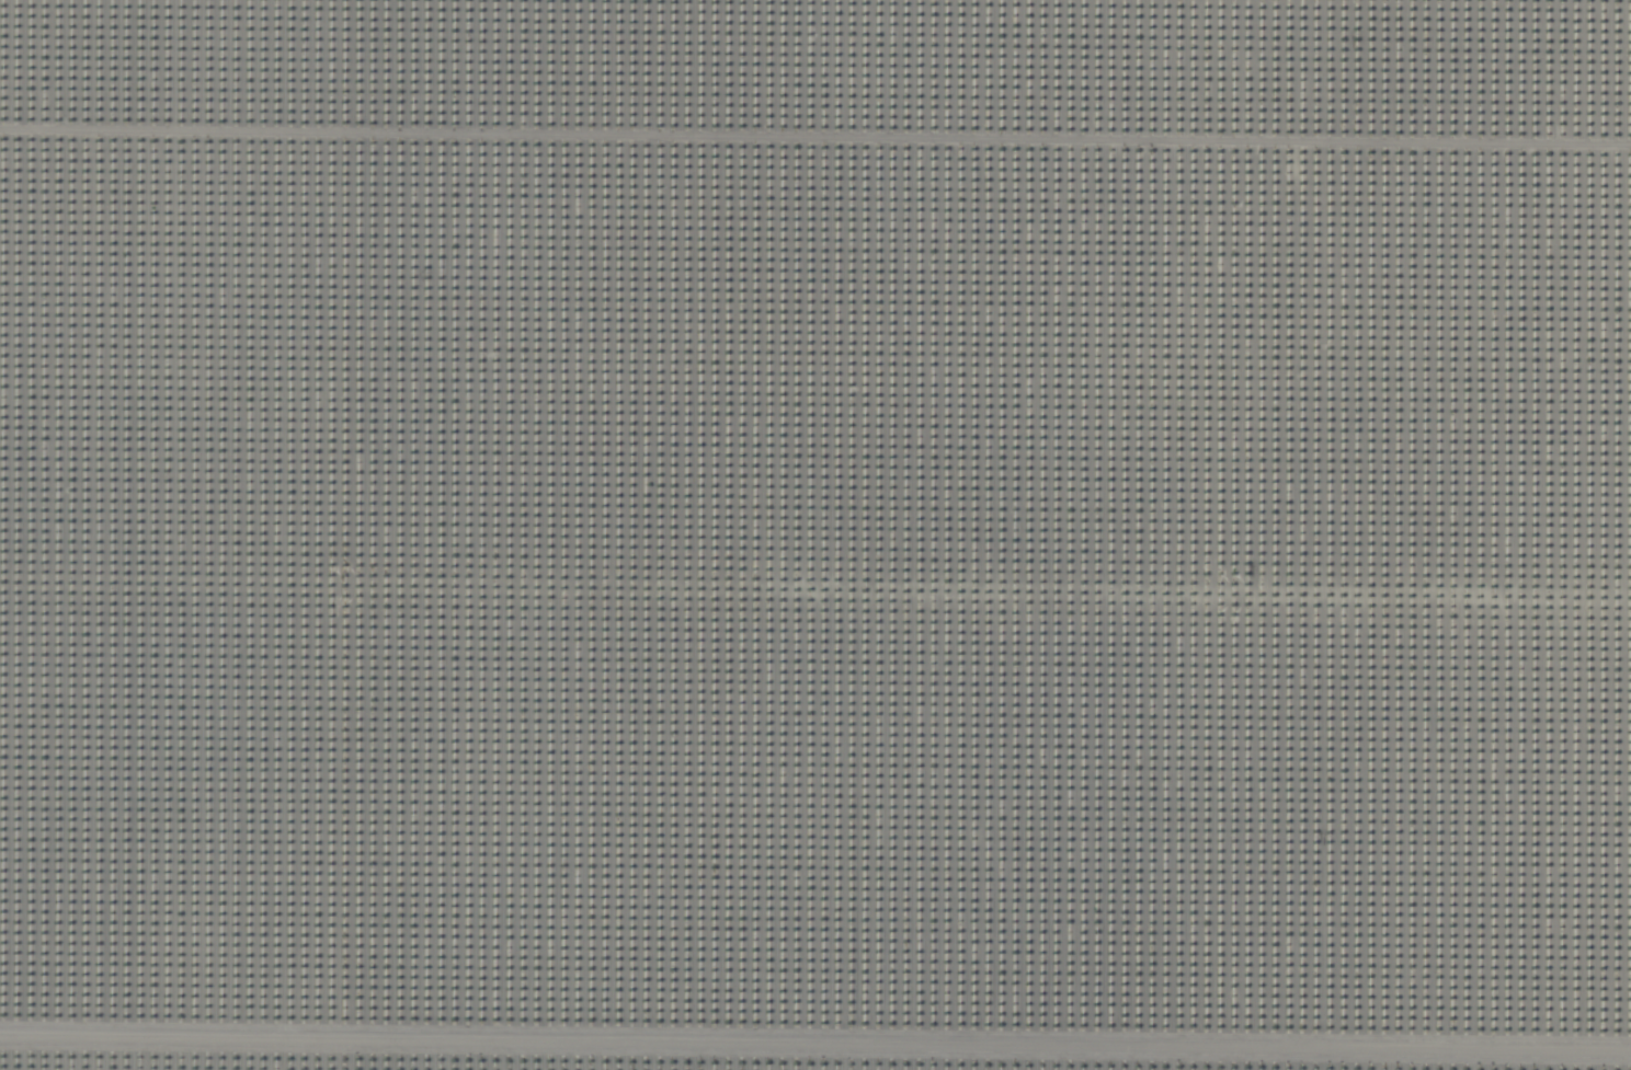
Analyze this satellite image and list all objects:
crop: (816, 534)

